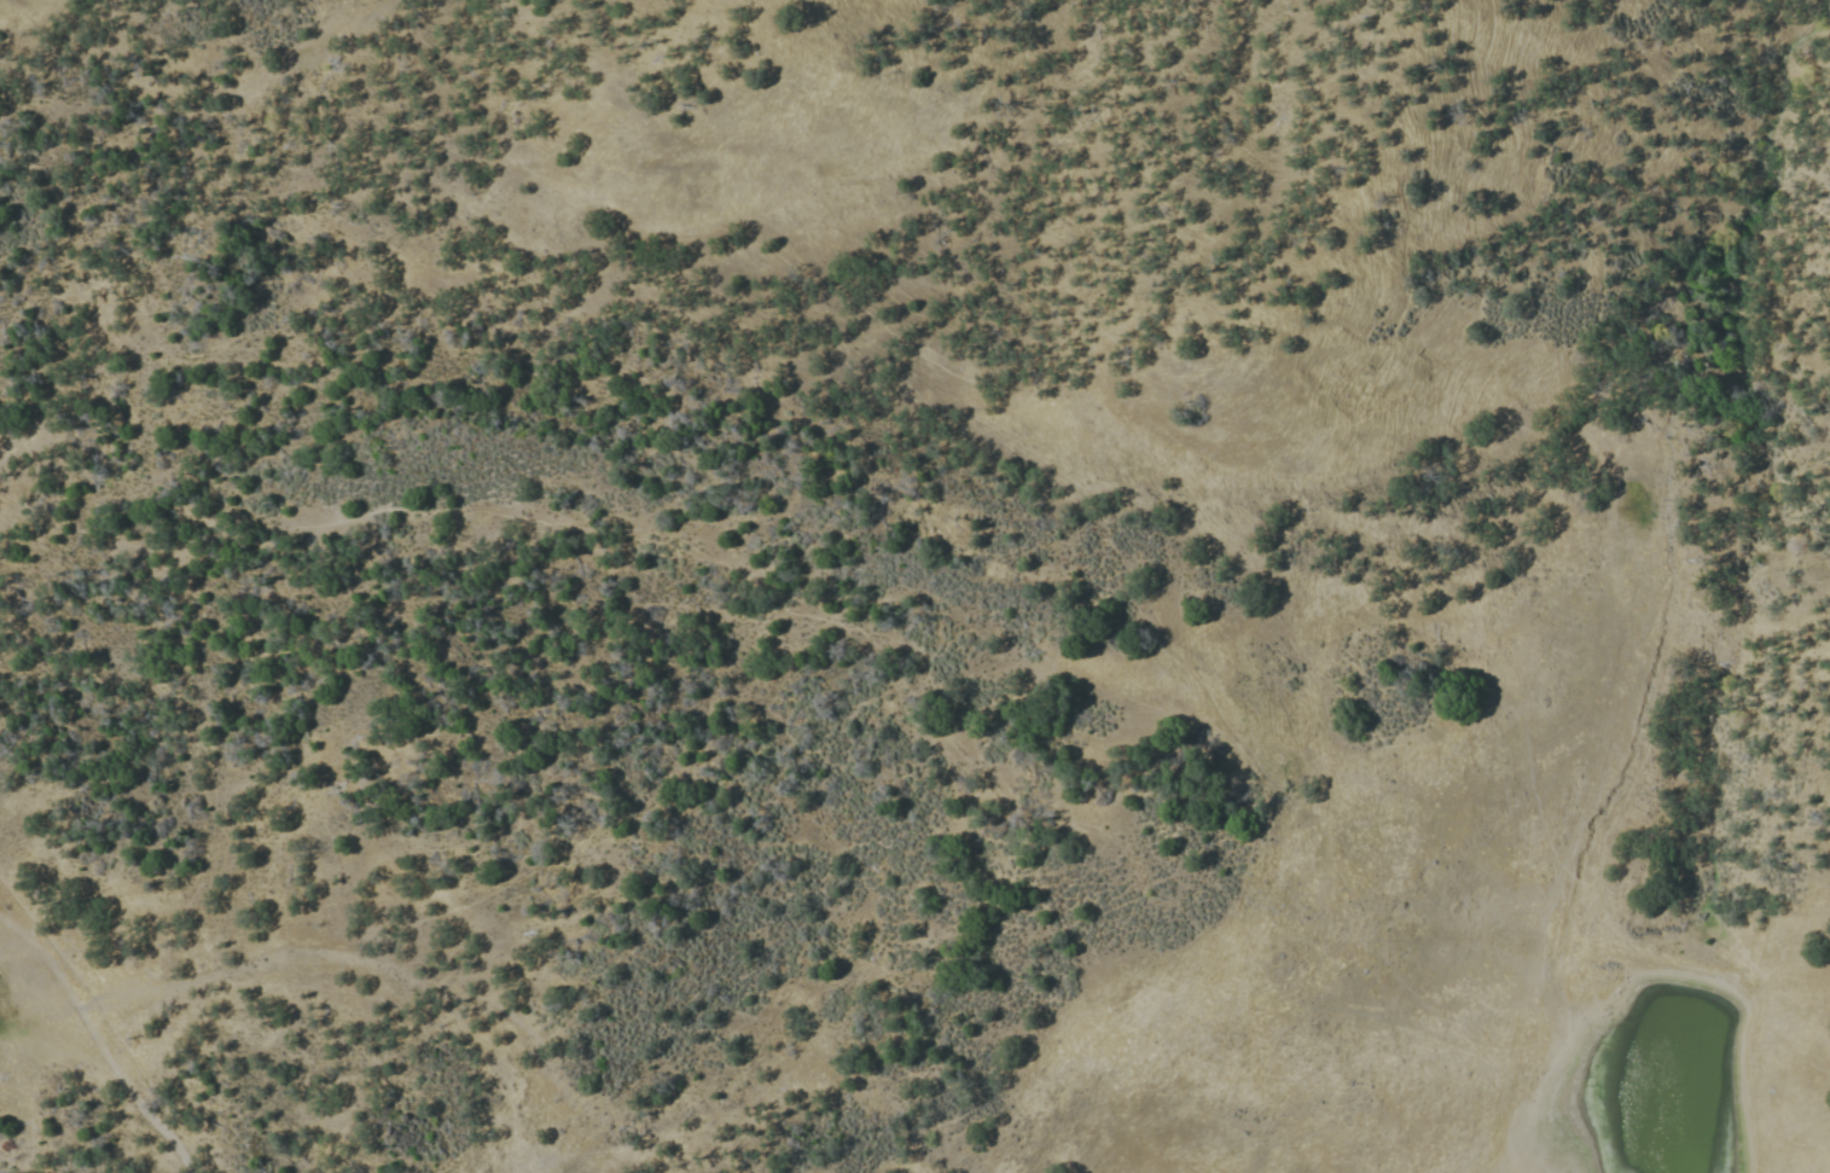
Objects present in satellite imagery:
road: (94, 1044)

